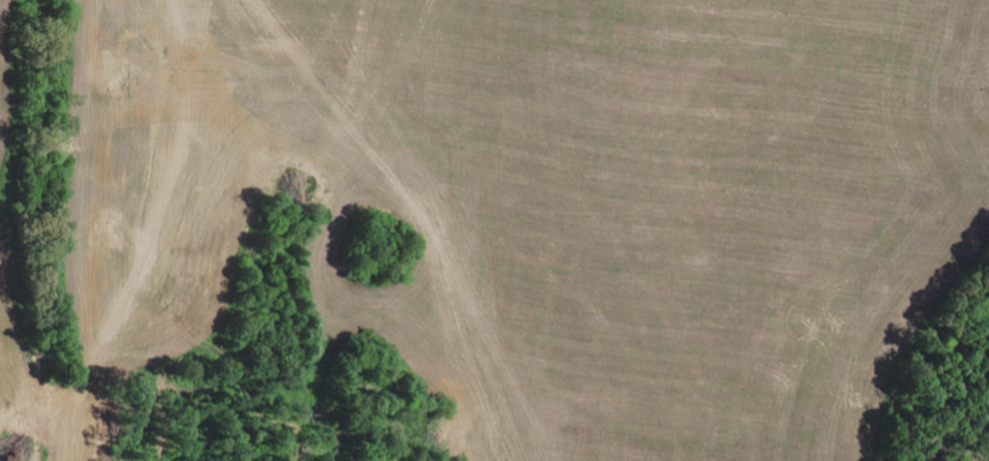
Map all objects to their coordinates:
road: (57, 230)

